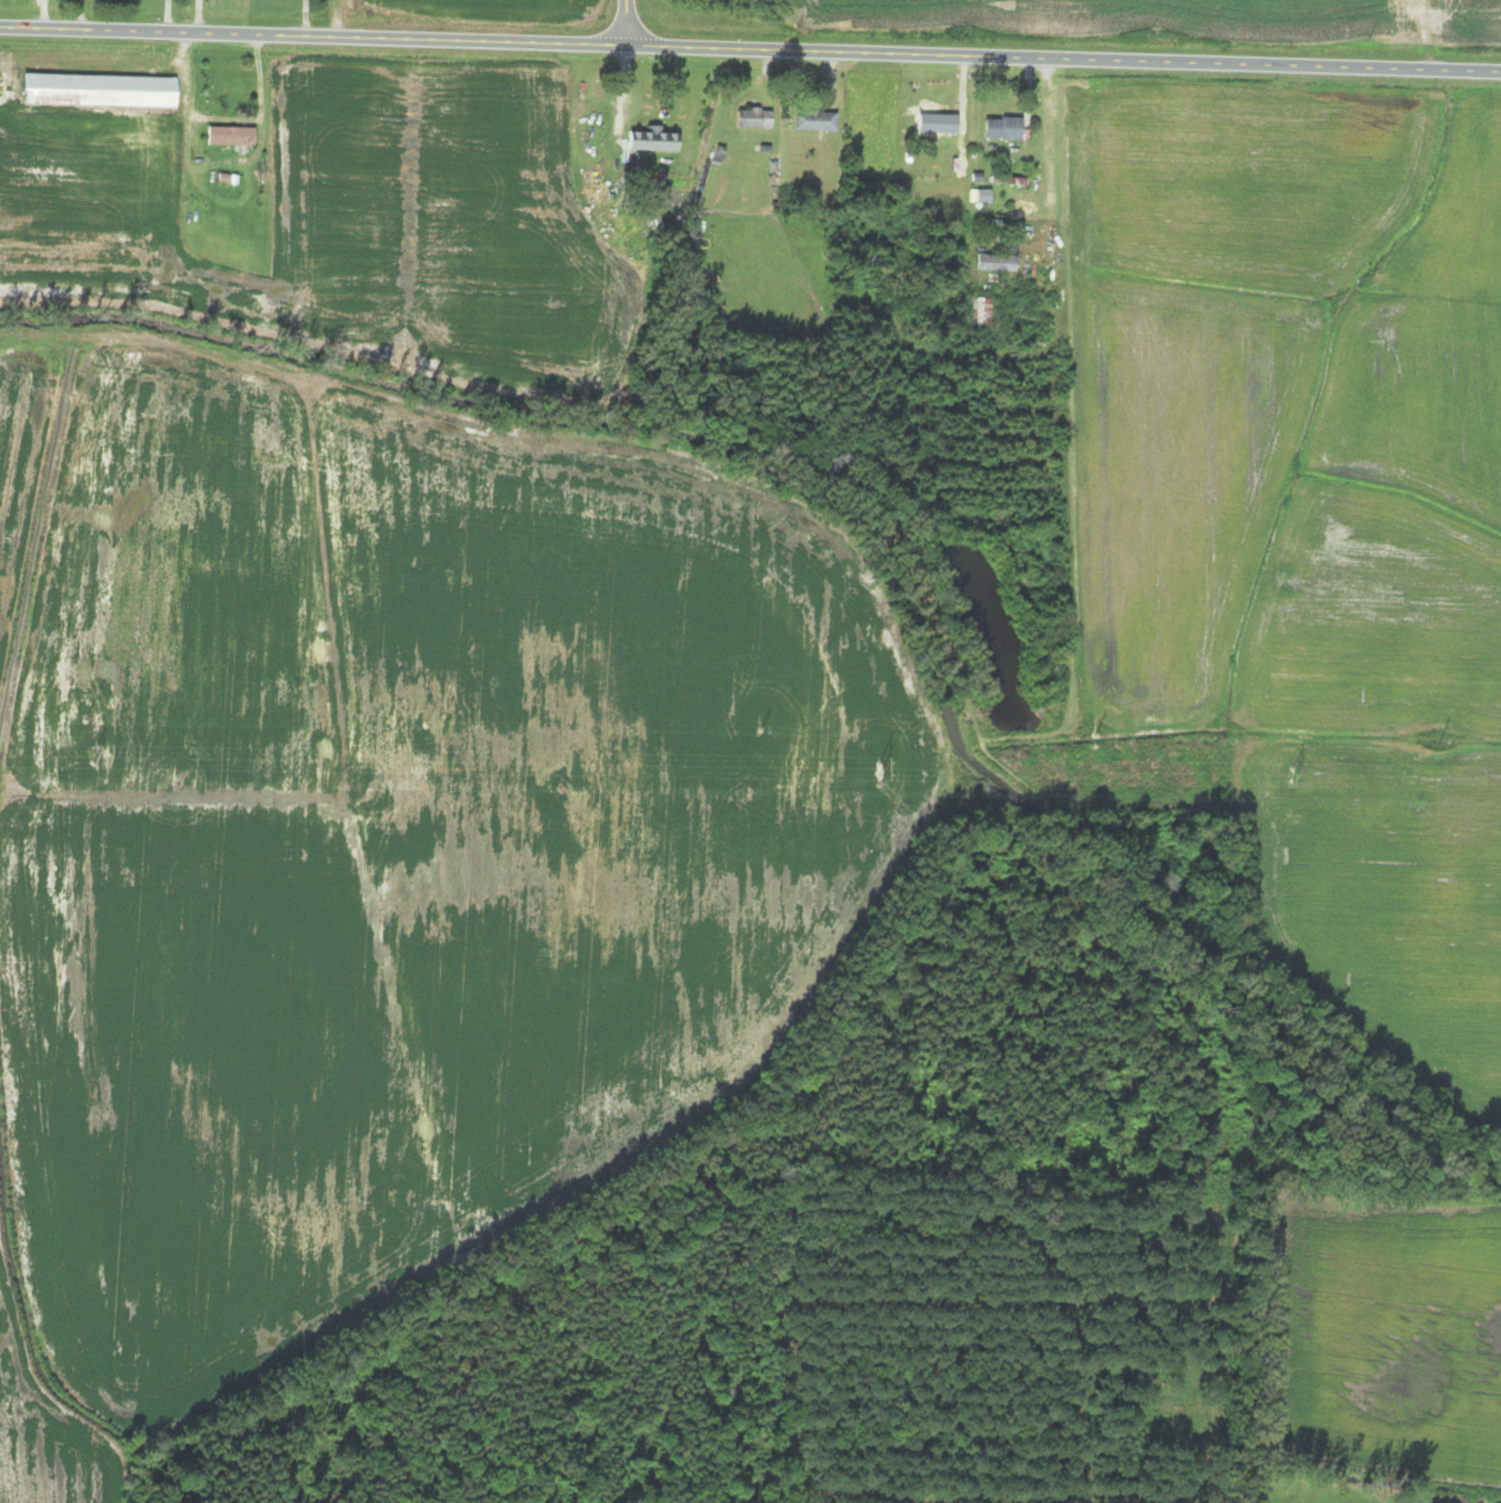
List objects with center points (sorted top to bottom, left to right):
road: (624, 19)
road: (750, 44)
building: (99, 90)
building: (754, 118)
building: (815, 120)
building: (934, 123)
building: (1003, 128)
building: (230, 135)
building: (653, 140)
road: (1048, 146)
building: (868, 258)
building: (997, 262)
building: (980, 311)
power tower: (91, 756)
power tower: (454, 761)
power tower: (877, 768)
power tower: (1290, 774)

